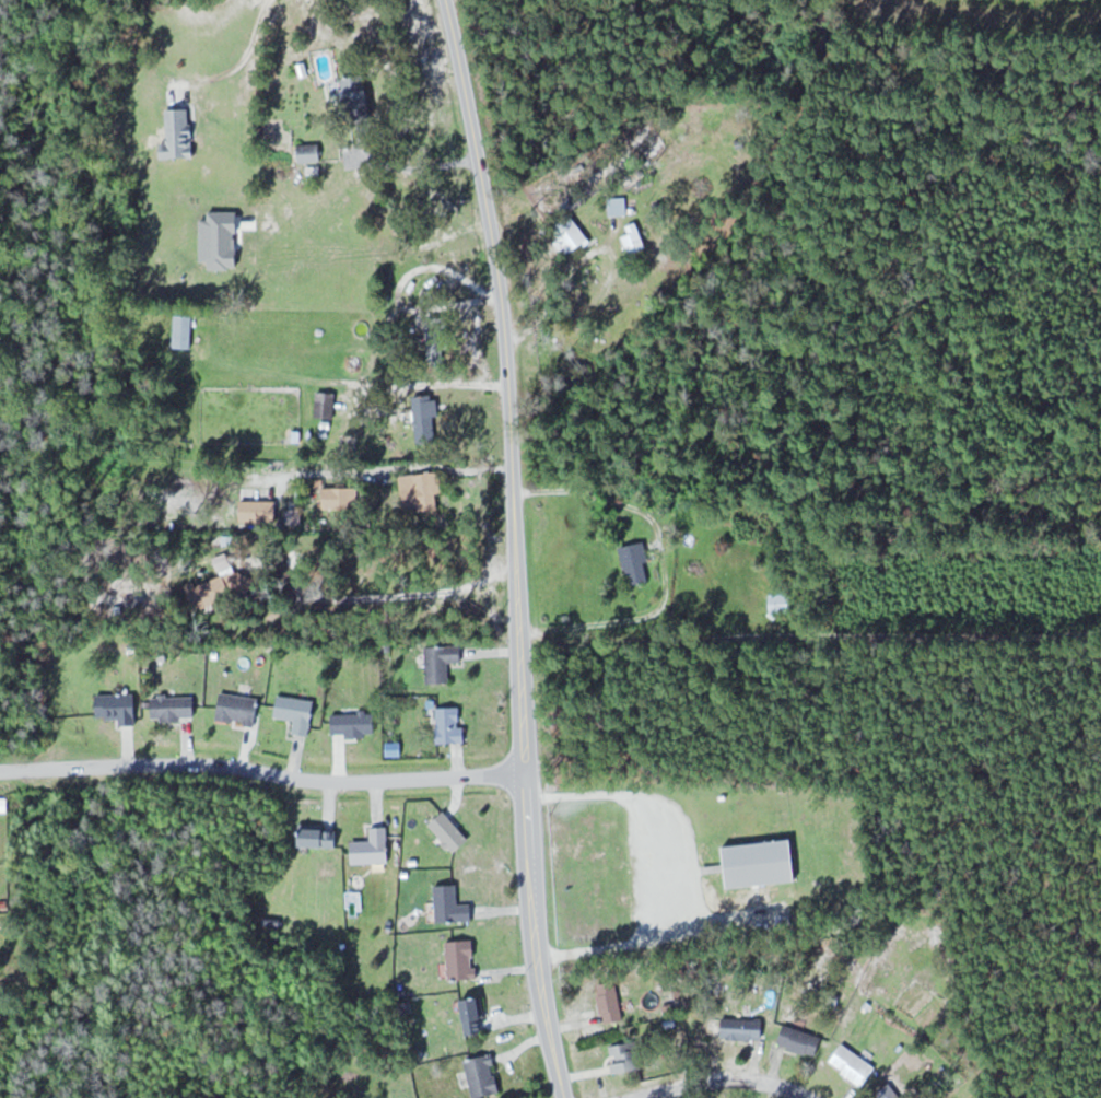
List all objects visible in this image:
road: (242, 60)
building: (358, 90)
building: (179, 132)
building: (309, 151)
building: (633, 237)
building: (571, 238)
building: (434, 332)
building: (179, 335)
building: (326, 404)
building: (427, 413)
building: (348, 445)
building: (422, 492)
building: (340, 497)
building: (262, 511)
road: (516, 547)
building: (636, 562)
building: (221, 588)
building: (782, 601)
building: (442, 661)
building: (118, 706)
building: (174, 706)
building: (238, 708)
building: (297, 712)
building: (354, 723)
building: (450, 724)
road: (262, 772)
building: (449, 831)
building: (319, 837)
building: (373, 848)
building: (760, 863)
building: (452, 904)
building: (461, 959)
building: (610, 1003)
building: (473, 1015)
building: (742, 1028)
building: (800, 1040)
building: (625, 1056)
building: (853, 1065)
building: (483, 1075)
road: (718, 1075)
building: (889, 1093)

